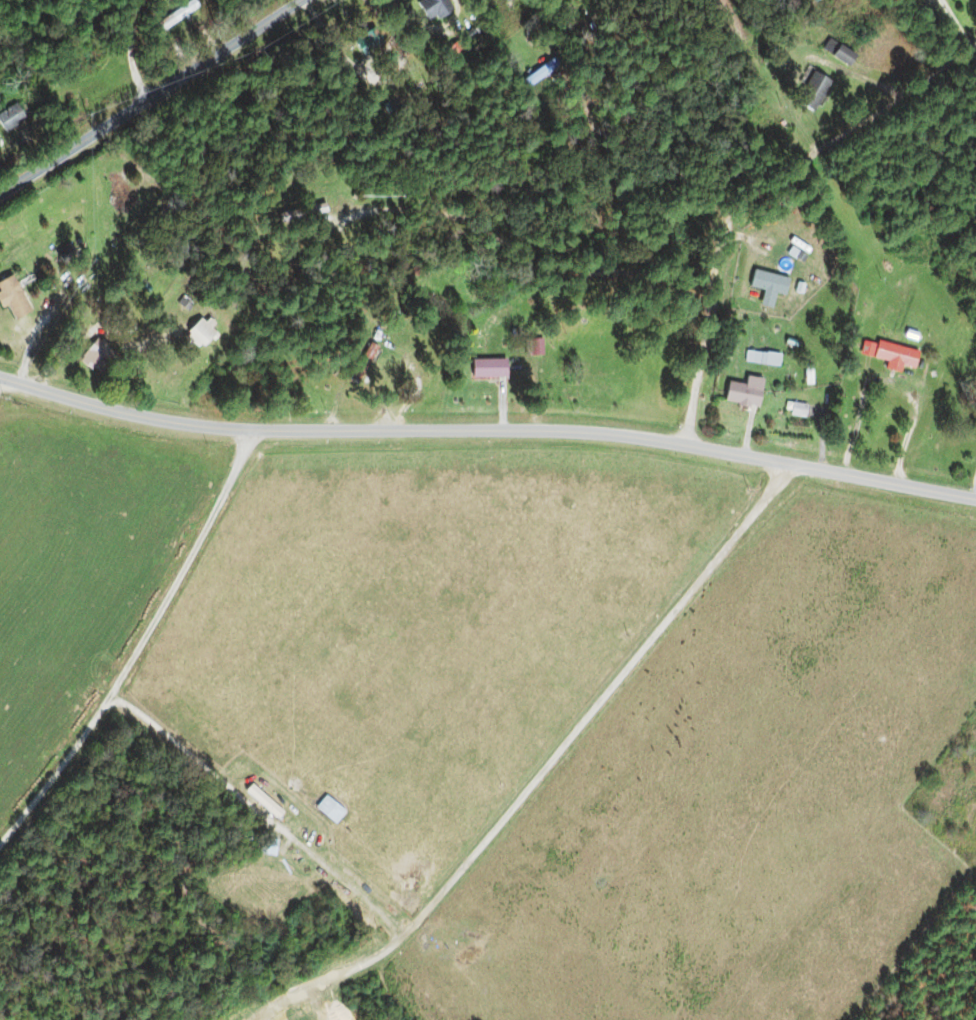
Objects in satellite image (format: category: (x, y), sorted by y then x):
building: (434, 8)
building: (366, 42)
building: (837, 53)
building: (540, 75)
building: (812, 92)
road: (150, 96)
building: (9, 118)
road: (755, 195)
building: (316, 210)
building: (768, 282)
building: (11, 299)
building: (200, 333)
building: (893, 356)
building: (761, 358)
building: (90, 359)
building: (362, 363)
building: (487, 369)
building: (743, 392)
building: (797, 410)
road: (487, 429)
road: (694, 585)
building: (262, 801)

